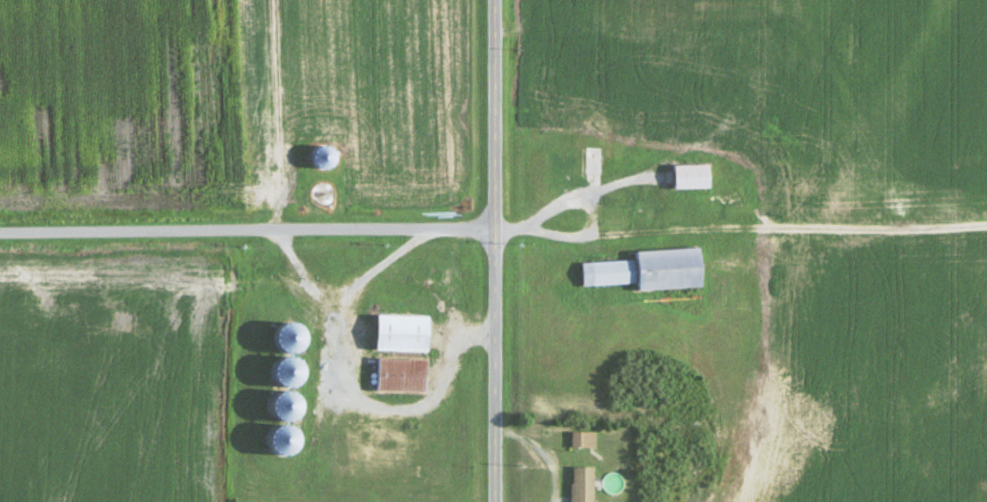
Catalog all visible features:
building: (690, 177)
road: (246, 230)
road: (492, 251)
building: (583, 485)

